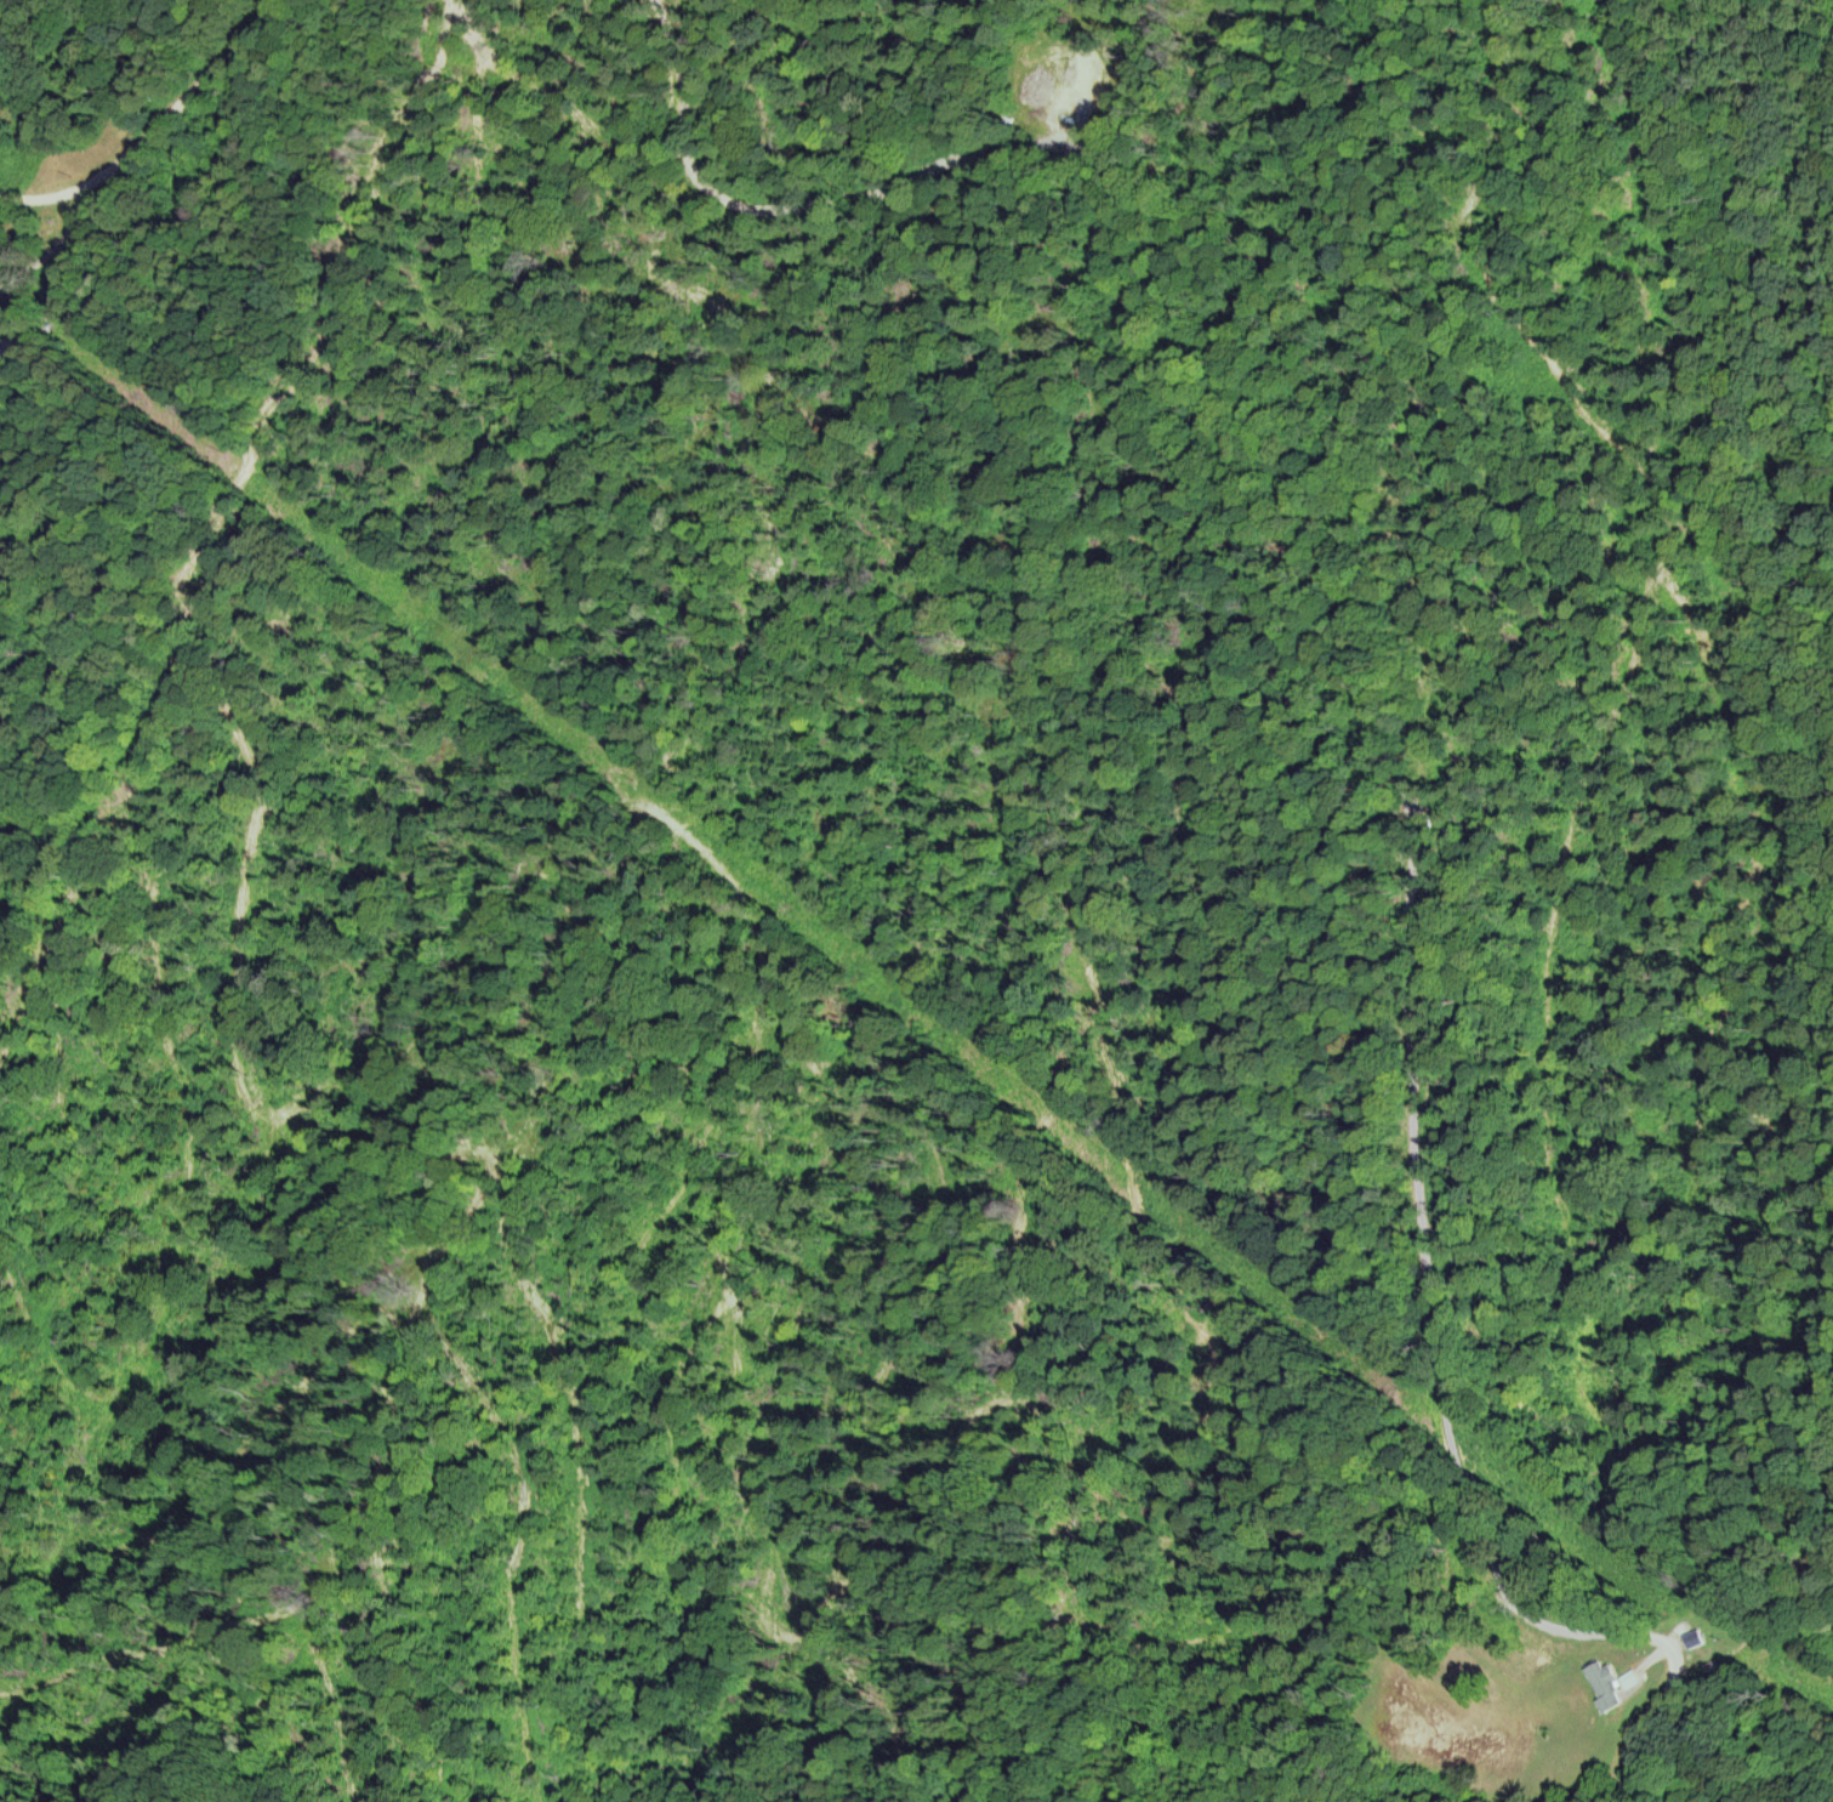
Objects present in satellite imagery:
road: (133, 114)
road: (1364, 737)
building: (1609, 1684)

